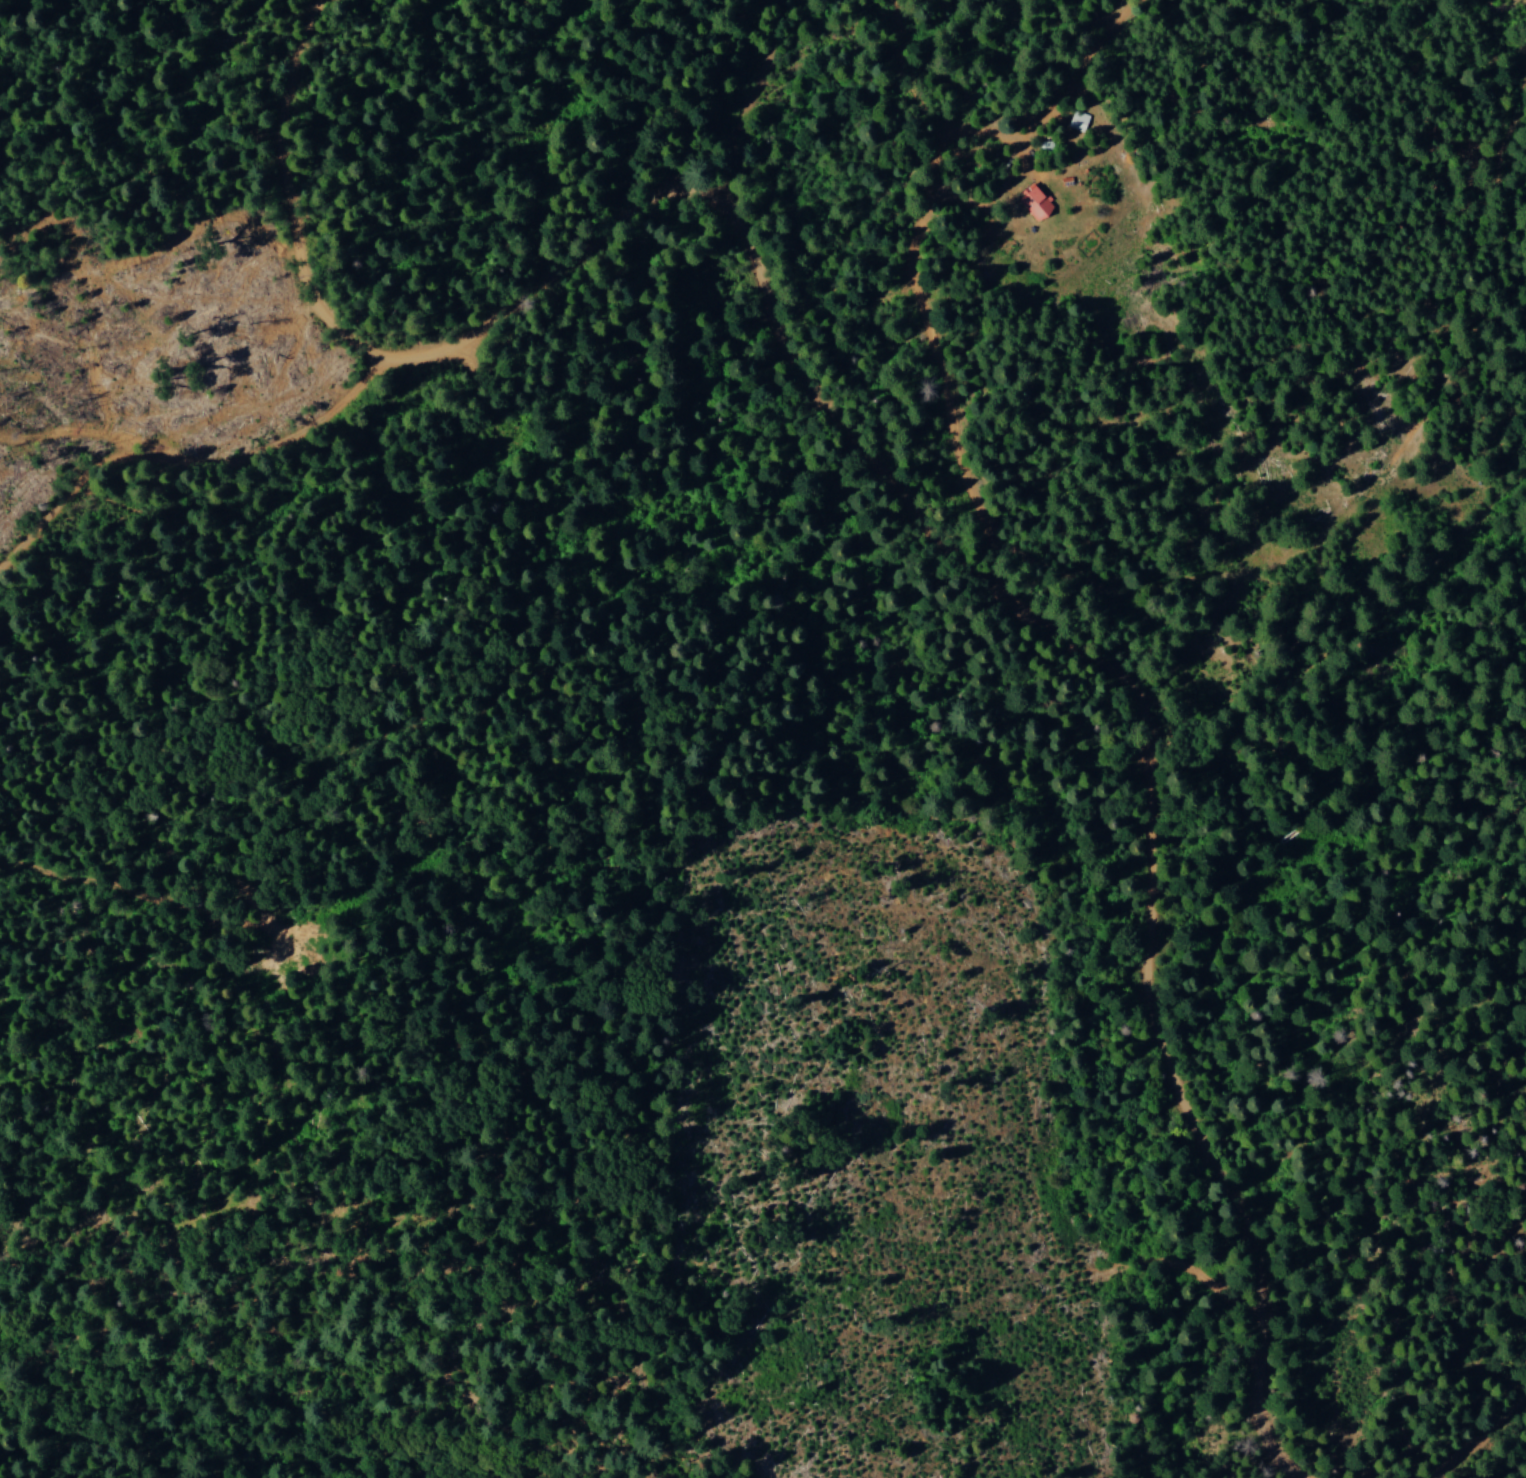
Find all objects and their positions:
road: (730, 119)
building: (1077, 121)
building: (1033, 204)
road: (862, 494)
road: (1308, 713)
road: (1485, 1442)

